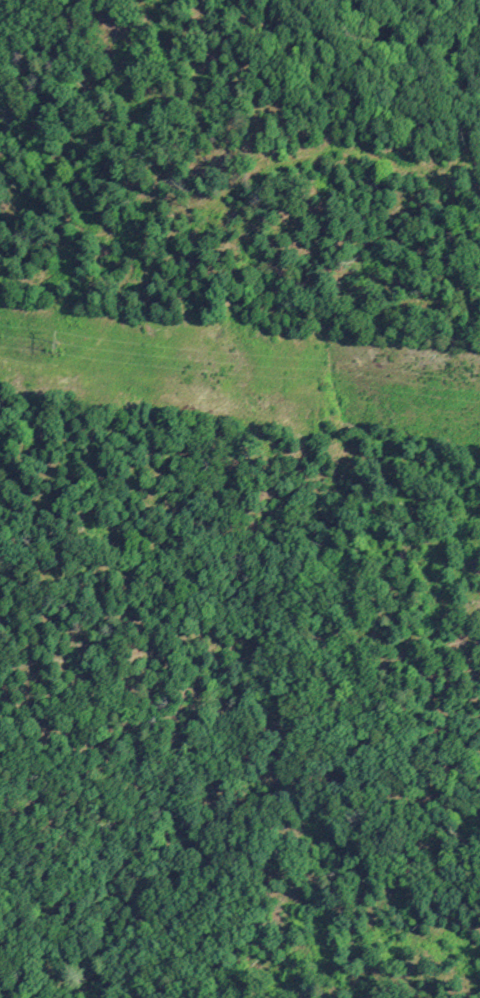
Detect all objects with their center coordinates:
power tower: (58, 349)

